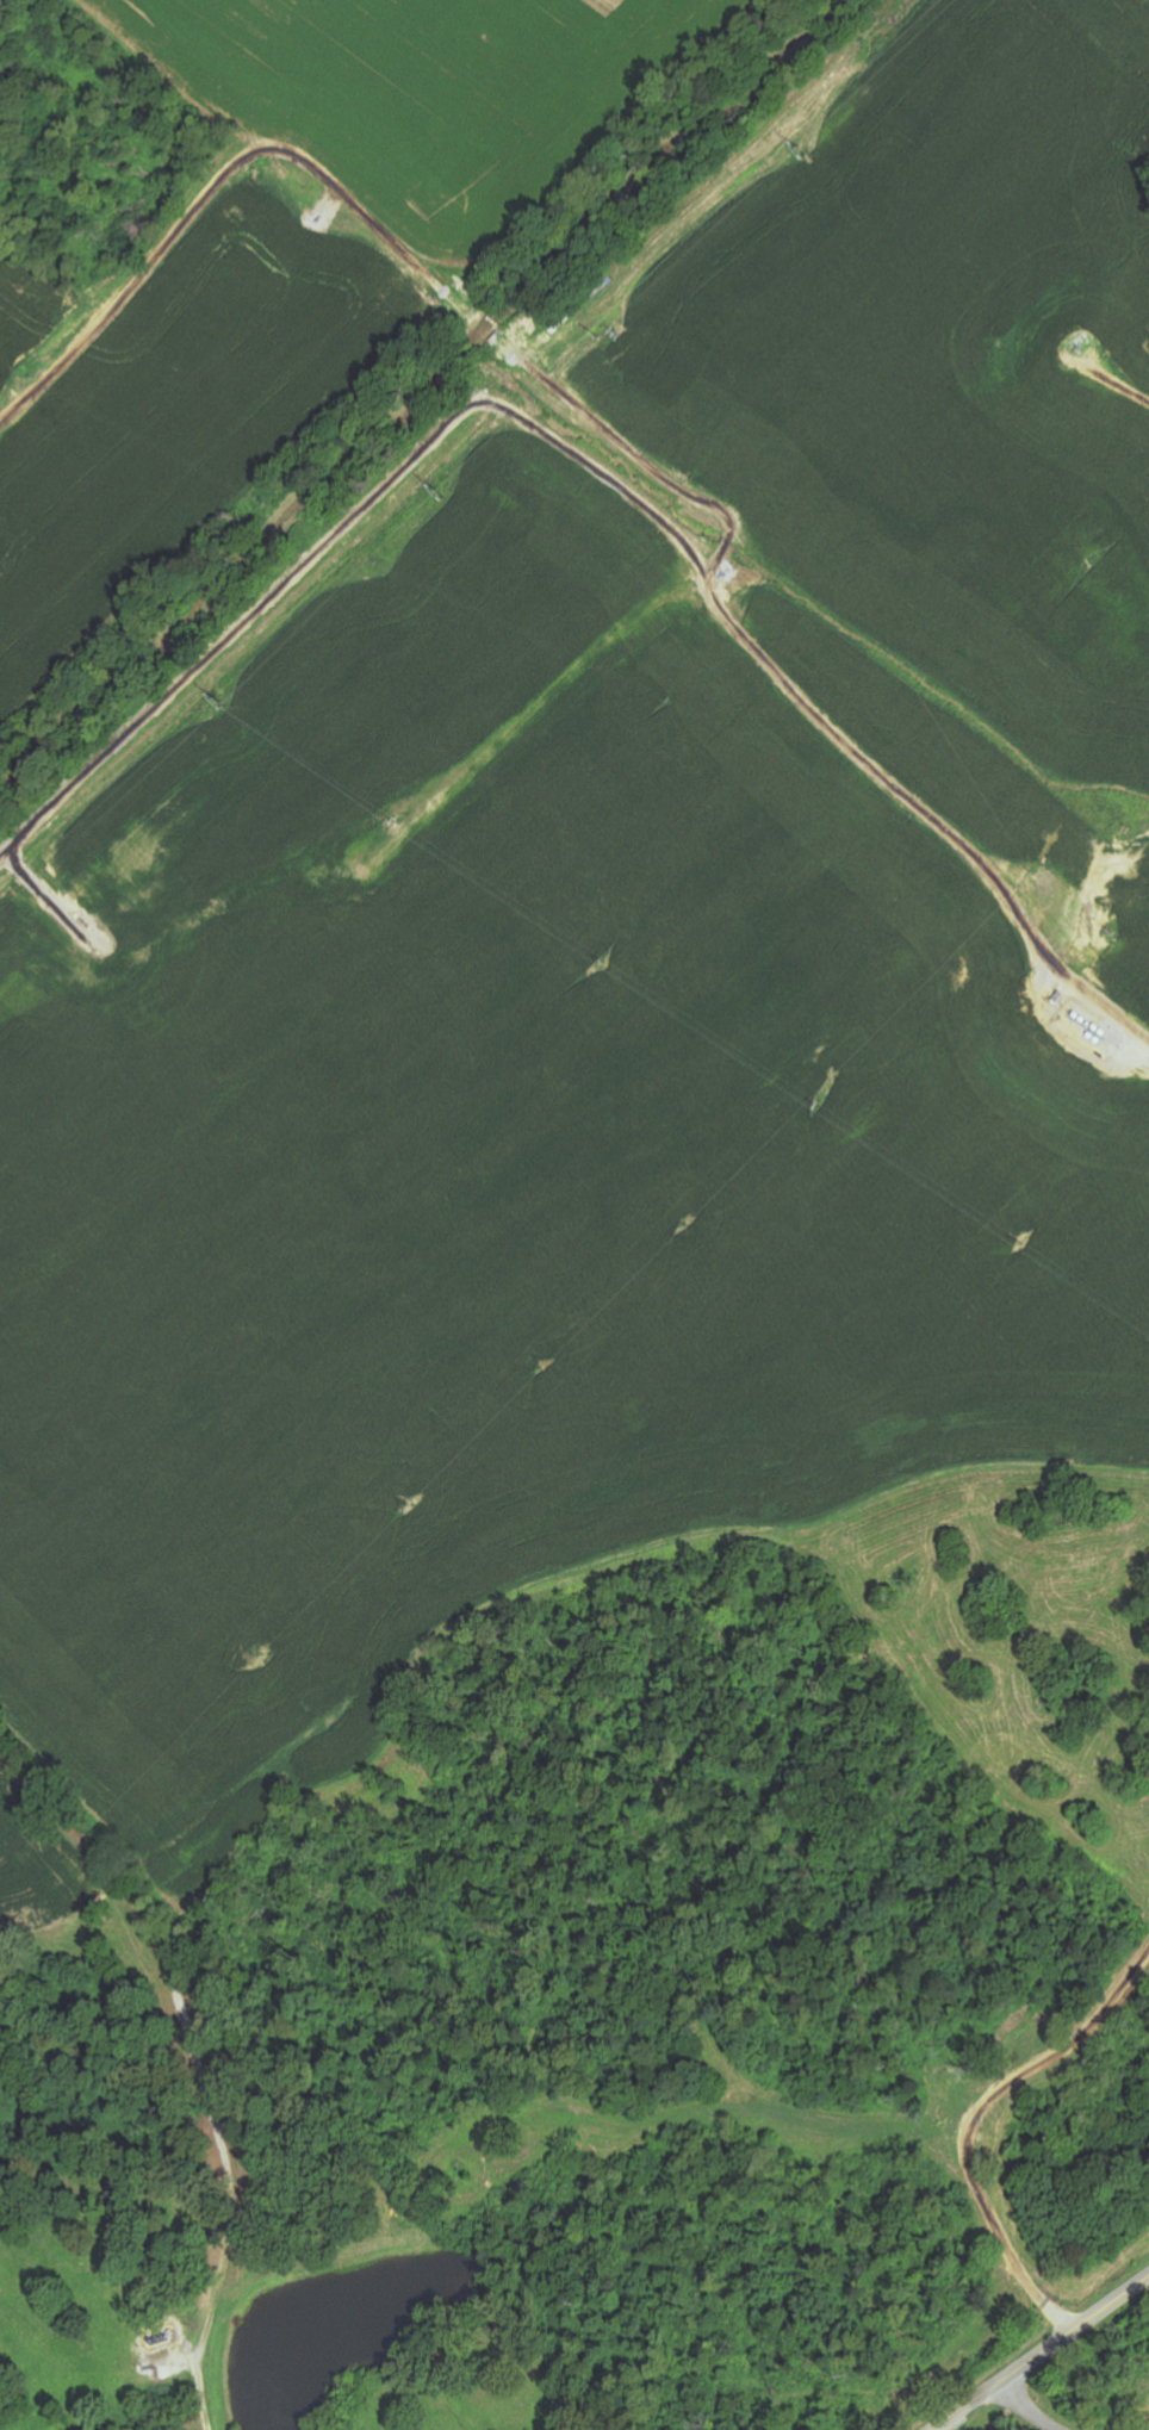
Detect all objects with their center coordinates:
road: (1043, 2355)
road: (1023, 2411)

